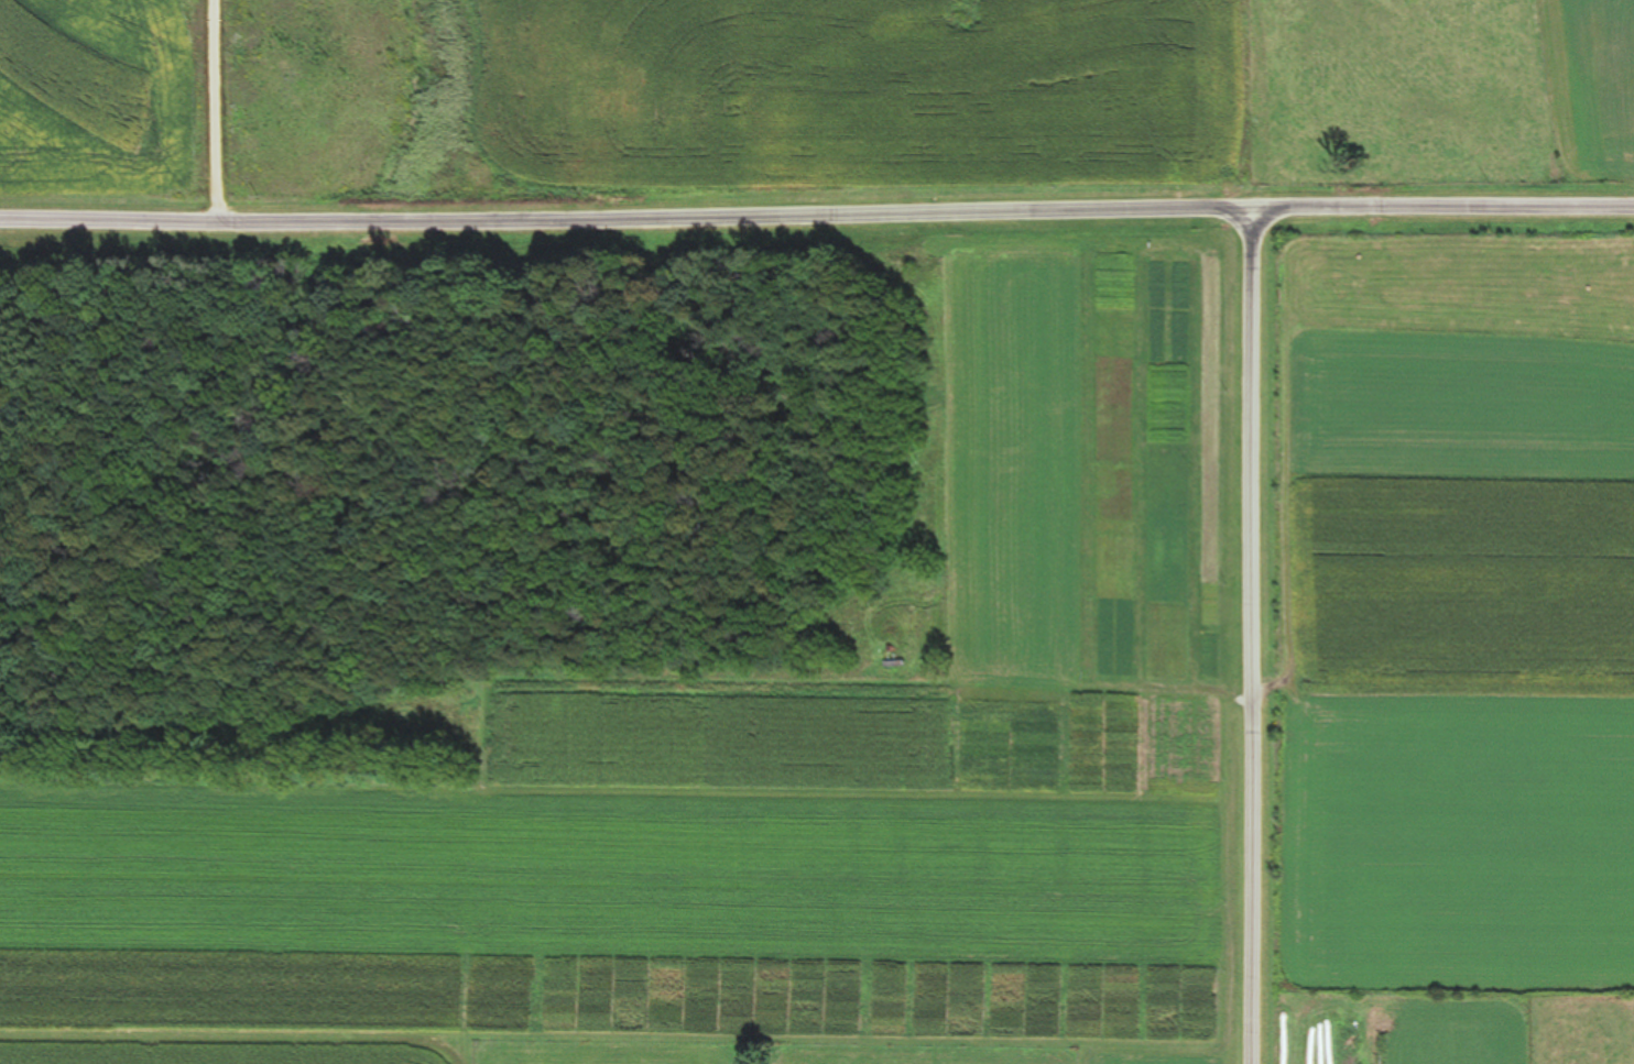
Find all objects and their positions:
road: (197, 99)
road: (816, 202)
road: (1260, 635)

